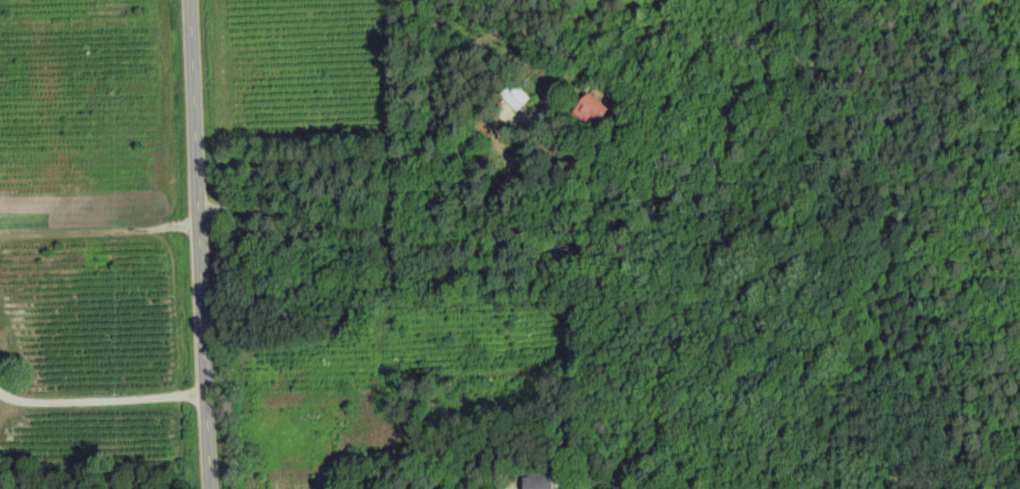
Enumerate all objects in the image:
building: (515, 96)
building: (588, 110)
road: (393, 230)
road: (199, 244)
road: (103, 398)
building: (540, 482)

